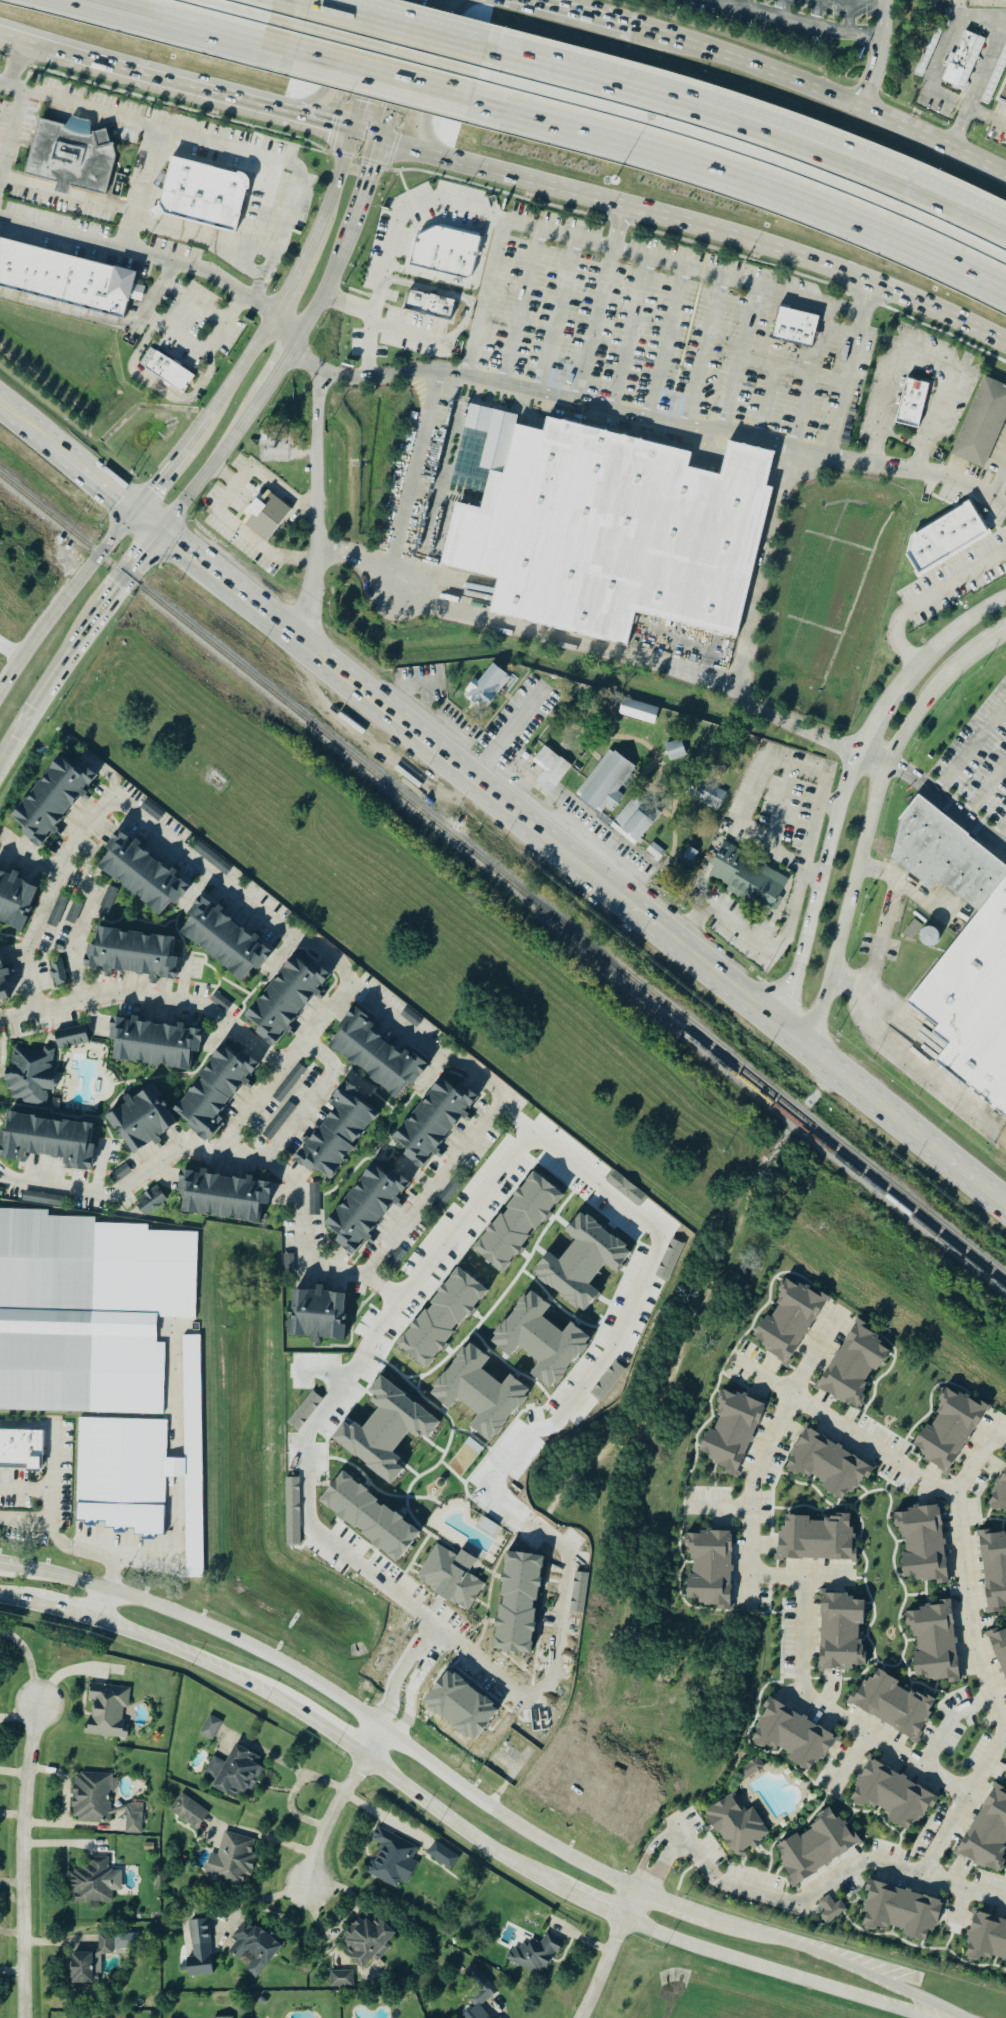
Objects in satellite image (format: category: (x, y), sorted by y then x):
road: (555, 3)
road: (748, 3)
road: (962, 4)
road: (781, 7)
road: (962, 9)
road: (816, 11)
road: (602, 15)
road: (852, 16)
road: (884, 20)
road: (203, 21)
road: (393, 23)
road: (833, 27)
building: (928, 51)
building: (961, 61)
road: (20, 65)
road: (378, 67)
road: (369, 68)
road: (397, 72)
road: (131, 76)
road: (327, 76)
building: (994, 76)
road: (435, 81)
road: (824, 87)
building: (1003, 94)
traffic signals: (361, 100)
road: (970, 108)
road: (750, 123)
road: (307, 126)
traffic signals: (327, 131)
road: (12, 134)
road: (364, 140)
road: (214, 144)
building: (70, 157)
traffic signals: (371, 167)
road: (744, 170)
road: (141, 189)
building: (200, 194)
road: (363, 194)
road: (328, 199)
road: (262, 215)
road: (136, 218)
road: (698, 224)
road: (618, 226)
road: (393, 233)
building: (445, 252)
road: (141, 255)
road: (685, 265)
building: (64, 278)
road: (287, 286)
road: (322, 297)
road: (485, 297)
road: (519, 305)
building: (432, 306)
road: (557, 314)
road: (101, 316)
road: (594, 323)
building: (794, 327)
road: (283, 330)
road: (630, 332)
road: (666, 341)
road: (370, 344)
road: (203, 348)
road: (703, 350)
road: (803, 352)
road: (741, 355)
road: (927, 355)
road: (279, 369)
road: (794, 370)
road: (850, 370)
building: (165, 371)
road: (230, 381)
road: (767, 401)
building: (910, 403)
road: (805, 410)
road: (27, 420)
road: (666, 421)
building: (980, 423)
road: (215, 462)
road: (95, 475)
road: (160, 478)
road: (276, 483)
road: (998, 483)
road: (318, 486)
traffic signals: (152, 490)
traffic signals: (122, 497)
road: (402, 501)
building: (266, 515)
road: (151, 521)
road: (235, 527)
building: (613, 533)
building: (944, 538)
traffic signals: (178, 543)
traffic signals: (148, 554)
road: (765, 567)
road: (134, 572)
road: (228, 583)
road: (925, 596)
road: (66, 597)
road: (947, 636)
road: (997, 639)
road: (9, 655)
road: (66, 657)
road: (620, 658)
road: (404, 687)
building: (486, 688)
building: (638, 711)
road: (877, 713)
road: (13, 732)
road: (507, 736)
road: (970, 749)
building: (673, 751)
road: (875, 752)
park: (597, 757)
building: (716, 768)
building: (548, 771)
building: (603, 783)
road: (985, 789)
building: (703, 795)
building: (50, 800)
road: (750, 800)
road: (947, 802)
road: (837, 803)
road: (781, 813)
building: (634, 821)
building: (680, 823)
road: (865, 827)
road: (1000, 833)
building: (653, 855)
building: (688, 856)
building: (140, 875)
building: (745, 878)
railway: (504, 879)
road: (909, 885)
road: (90, 895)
building: (109, 898)
building: (14, 899)
building: (57, 911)
building: (73, 914)
road: (648, 919)
building: (913, 929)
building: (928, 936)
road: (782, 939)
building: (223, 941)
road: (801, 944)
building: (963, 950)
building: (130, 954)
building: (57, 972)
railway: (513, 975)
road: (885, 983)
building: (2, 986)
road: (876, 997)
building: (283, 1000)
road: (166, 1001)
road: (15, 1015)
road: (875, 1035)
building: (69, 1037)
building: (152, 1045)
building: (376, 1058)
road: (284, 1064)
building: (28, 1076)
road: (484, 1078)
building: (289, 1082)
building: (213, 1090)
road: (313, 1099)
railway: (774, 1107)
road: (512, 1112)
building: (286, 1113)
building: (140, 1121)
building: (431, 1121)
building: (336, 1133)
building: (46, 1141)
building: (221, 1197)
building: (47, 1199)
building: (314, 1199)
building: (148, 1201)
building: (366, 1208)
building: (519, 1221)
building: (88, 1311)
building: (315, 1315)
building: (443, 1317)
building: (789, 1321)
road: (678, 1333)
road: (817, 1351)
building: (854, 1365)
road: (764, 1374)
road: (557, 1410)
building: (949, 1430)
building: (732, 1431)
building: (21, 1449)
road: (51, 1451)
building: (827, 1464)
building: (144, 1467)
road: (306, 1483)
road: (25, 1488)
building: (1000, 1493)
road: (720, 1506)
building: (816, 1538)
building: (922, 1544)
road: (84, 1548)
building: (438, 1557)
building: (709, 1568)
building: (994, 1569)
road: (829, 1575)
road: (750, 1590)
road: (969, 1613)
road: (803, 1614)
building: (841, 1631)
building: (934, 1642)
building: (999, 1648)
road: (28, 1661)
building: (892, 1704)
building: (106, 1712)
road: (949, 1721)
building: (208, 1729)
building: (793, 1736)
road: (850, 1761)
road: (987, 1762)
building: (750, 1768)
building: (233, 1774)
building: (893, 1796)
building: (90, 1798)
road: (476, 1798)
building: (188, 1811)
road: (12, 1815)
road: (385, 1818)
road: (332, 1819)
road: (456, 1824)
building: (736, 1825)
building: (988, 1832)
road: (679, 1842)
building: (815, 1848)
building: (441, 1857)
building: (391, 1859)
road: (25, 1860)
building: (230, 1861)
building: (89, 1883)
road: (728, 1883)
road: (964, 1884)
road: (263, 1898)
building: (831, 1909)
building: (901, 1911)
building: (987, 1939)
building: (363, 1940)
building: (102, 1945)
building: (254, 1947)
building: (199, 1951)
building: (534, 1954)
road: (611, 1954)
building: (80, 1968)
building: (341, 1979)
building: (479, 1986)
building: (483, 2016)
building: (487, 2016)

